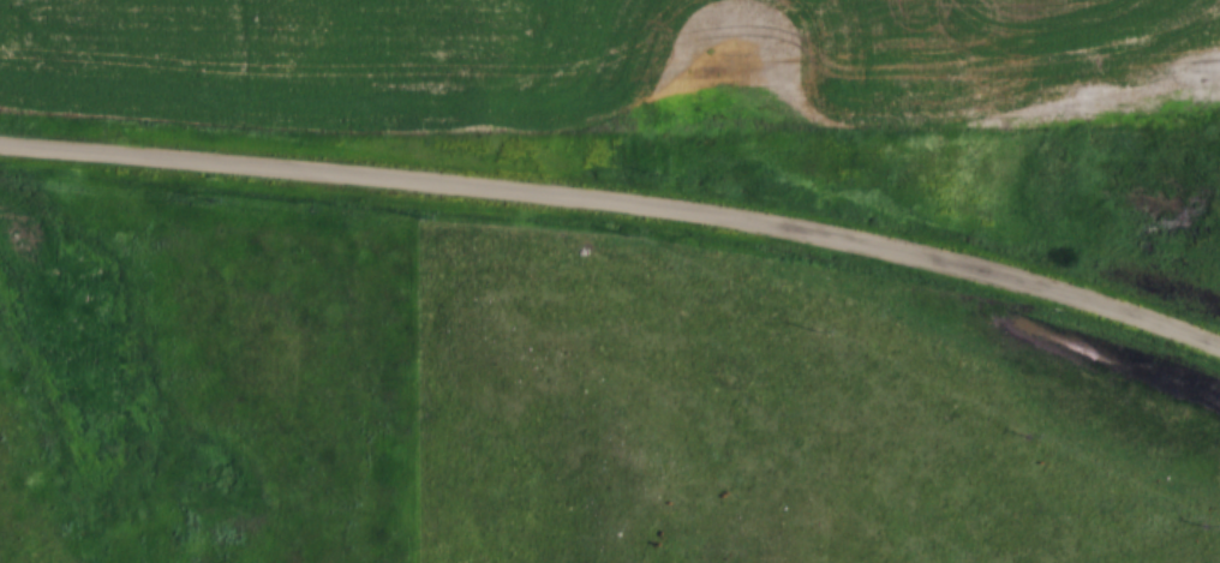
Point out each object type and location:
road: (14, 143)
road: (632, 204)

